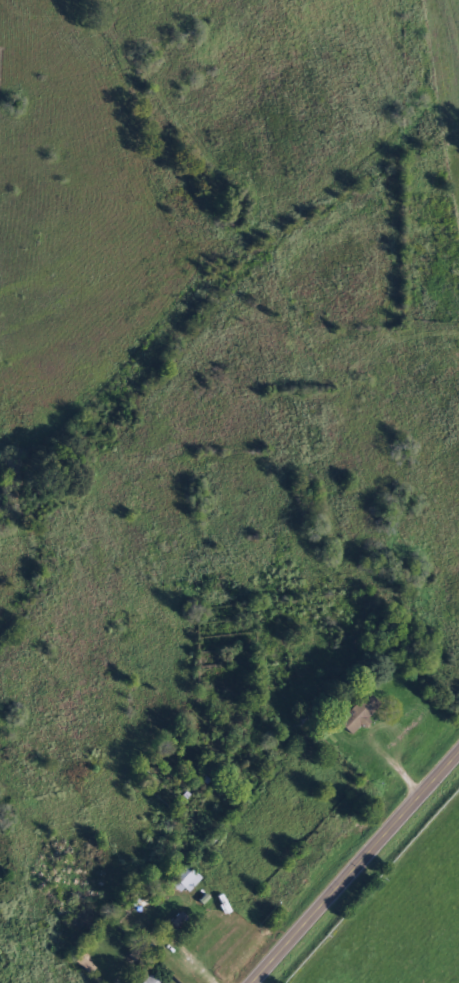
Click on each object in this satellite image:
building: (357, 714)
road: (354, 866)
building: (185, 880)
building: (149, 980)

